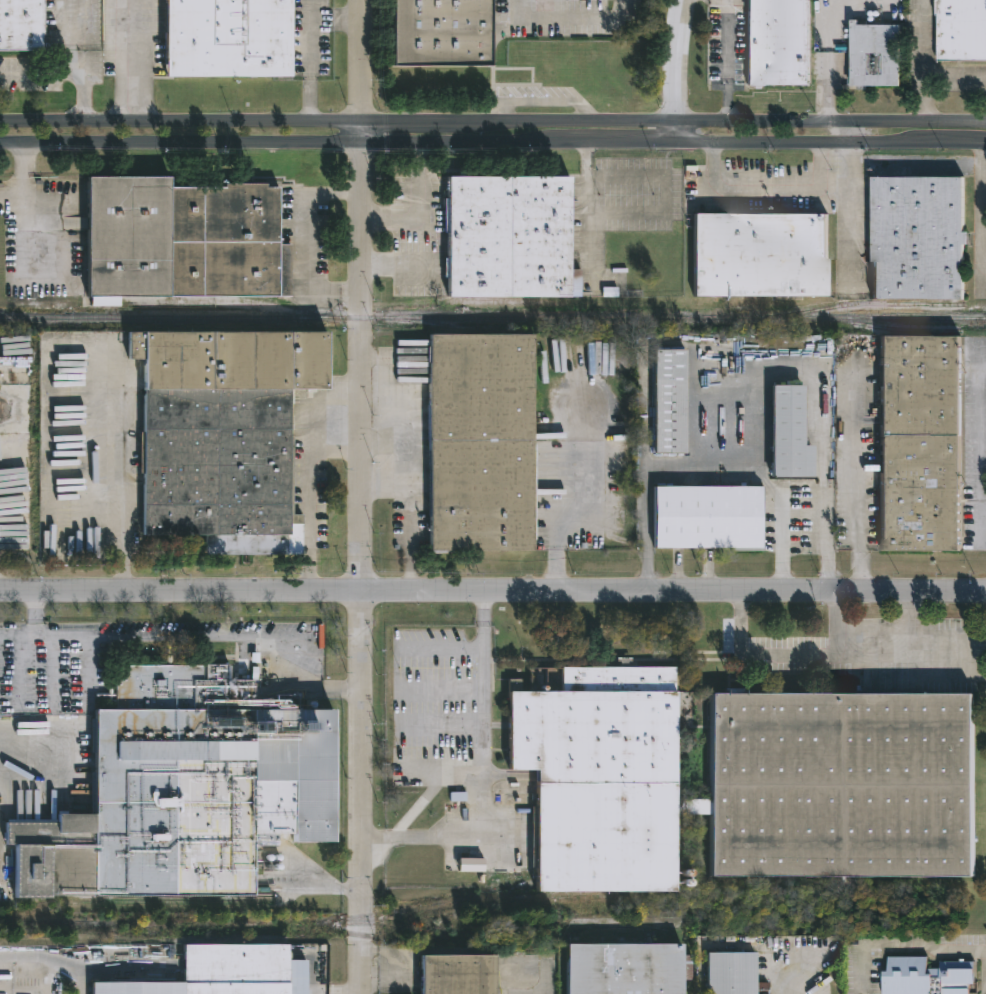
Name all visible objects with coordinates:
road: (568, 18)
building: (23, 26)
building: (962, 30)
building: (448, 34)
building: (234, 39)
building: (779, 43)
road: (310, 45)
building: (876, 55)
road: (72, 62)
road: (133, 62)
road: (727, 62)
road: (923, 62)
road: (678, 70)
road: (37, 71)
road: (954, 79)
road: (826, 92)
road: (493, 124)
road: (493, 144)
road: (23, 178)
road: (768, 191)
road: (587, 202)
road: (850, 209)
road: (421, 215)
building: (517, 236)
building: (917, 237)
building: (189, 239)
road: (310, 242)
building: (754, 253)
road: (396, 266)
railway: (865, 303)
railway: (493, 317)
railway: (887, 327)
railway: (458, 329)
building: (665, 401)
road: (818, 404)
building: (230, 429)
building: (785, 433)
road: (979, 436)
building: (488, 442)
building: (921, 442)
road: (587, 445)
building: (14, 467)
road: (122, 470)
road: (859, 472)
road: (409, 491)
road: (359, 496)
road: (646, 499)
road: (311, 500)
road: (782, 504)
building: (708, 516)
road: (492, 591)
road: (34, 609)
road: (206, 637)
road: (474, 650)
road: (902, 650)
road: (790, 654)
road: (444, 692)
road: (446, 728)
road: (31, 745)
road: (446, 771)
building: (737, 781)
building: (192, 790)
road: (483, 803)
road: (421, 804)
building: (471, 864)
building: (0, 866)
railway: (130, 902)
railway: (359, 917)
railway: (359, 922)
railway: (52, 923)
railway: (360, 934)
railway: (173, 938)
road: (922, 949)
building: (632, 968)
road: (982, 970)
building: (226, 973)
building: (466, 973)
building: (733, 974)
building: (923, 975)
road: (384, 976)
road: (336, 992)
road: (795, 992)

